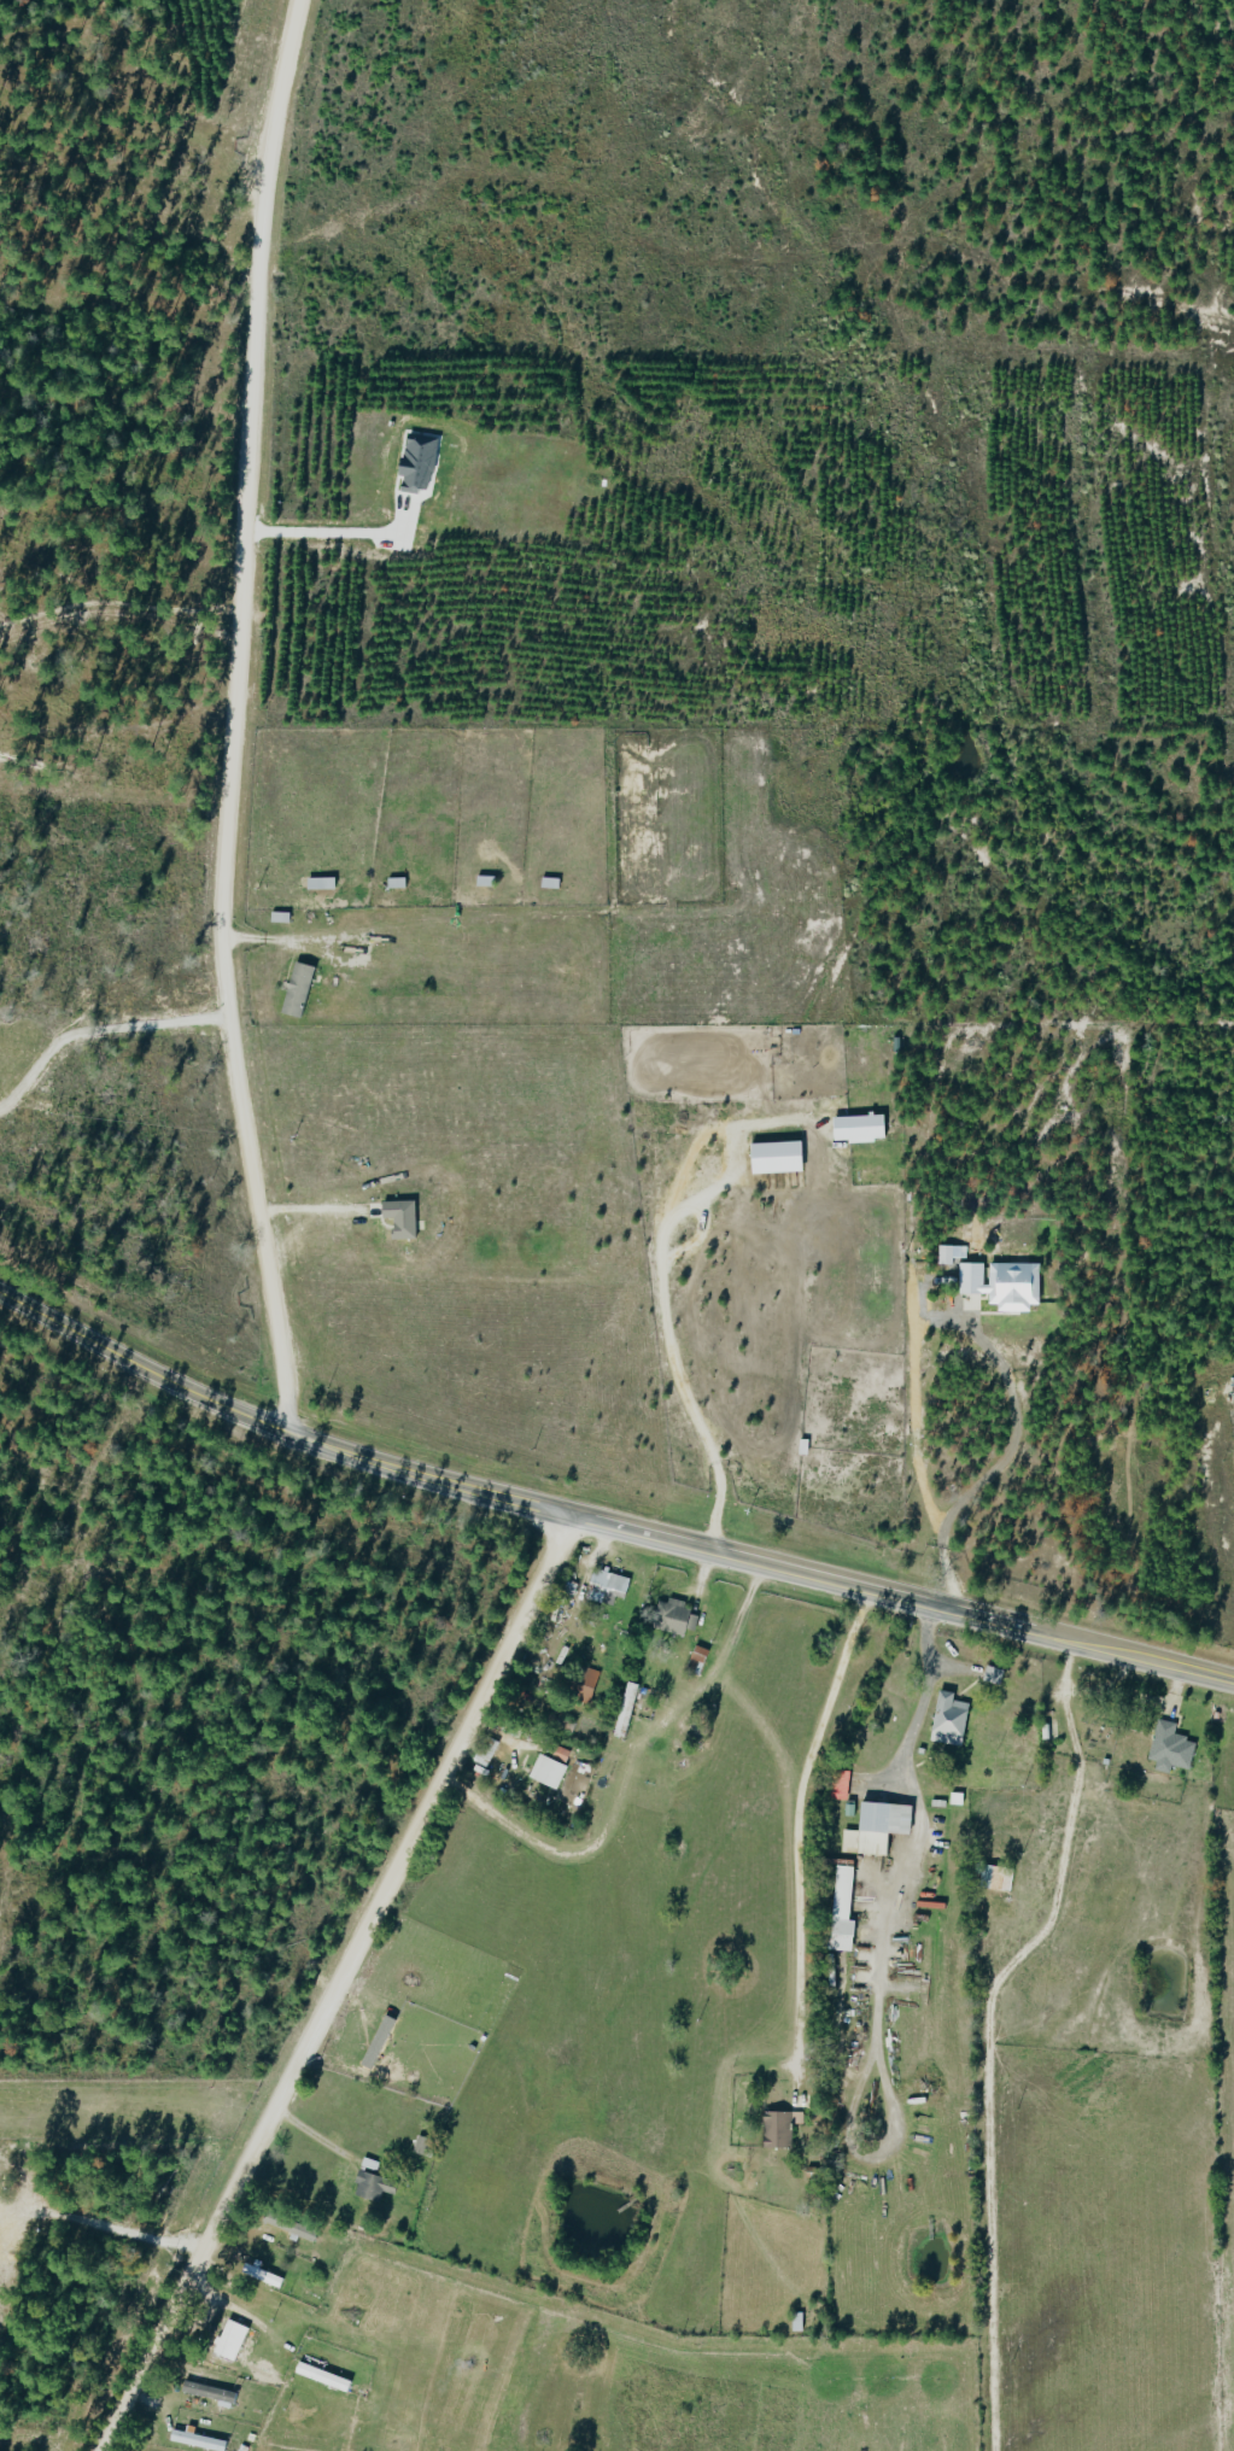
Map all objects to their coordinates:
road: (192, 715)
road: (603, 1528)
building: (607, 1585)
building: (566, 1590)
building: (672, 1622)
building: (695, 1665)
building: (990, 1679)
building: (580, 1689)
building: (946, 1724)
building: (1092, 1730)
building: (1046, 1736)
building: (679, 1739)
building: (1168, 1751)
building: (545, 1776)
building: (875, 1831)
building: (993, 1880)
building: (838, 1908)
road: (334, 1984)
building: (776, 2133)
building: (423, 2149)
building: (373, 2189)
building: (287, 2229)
building: (273, 2281)
building: (228, 2344)
building: (321, 2381)
building: (206, 2396)
building: (191, 2444)

